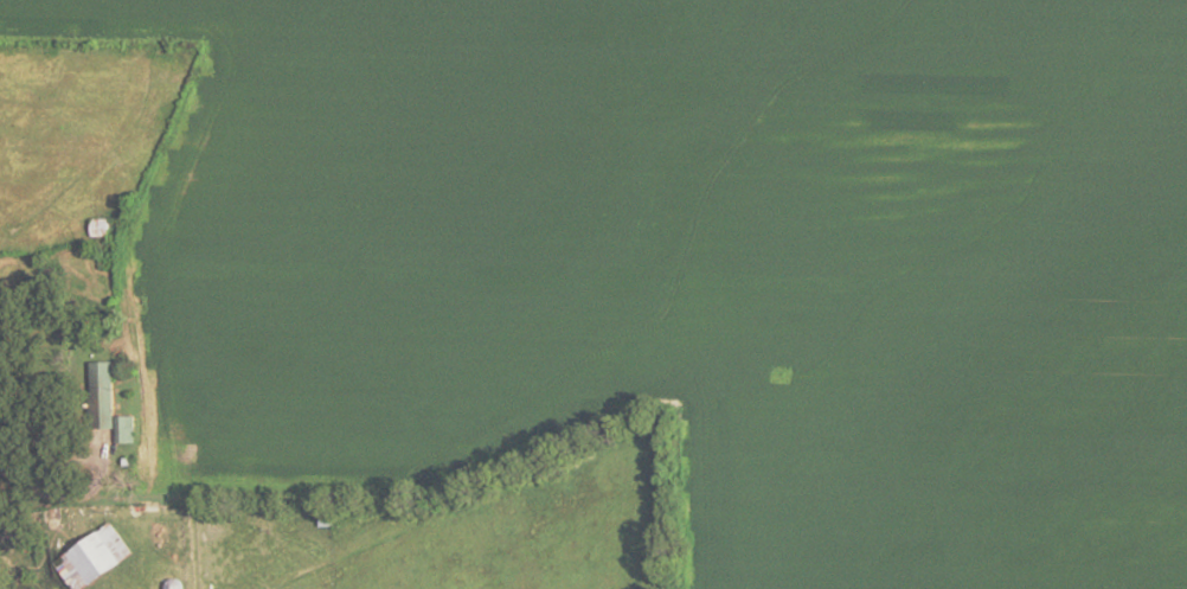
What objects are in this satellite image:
building: (96, 231)
building: (323, 523)
building: (90, 561)

